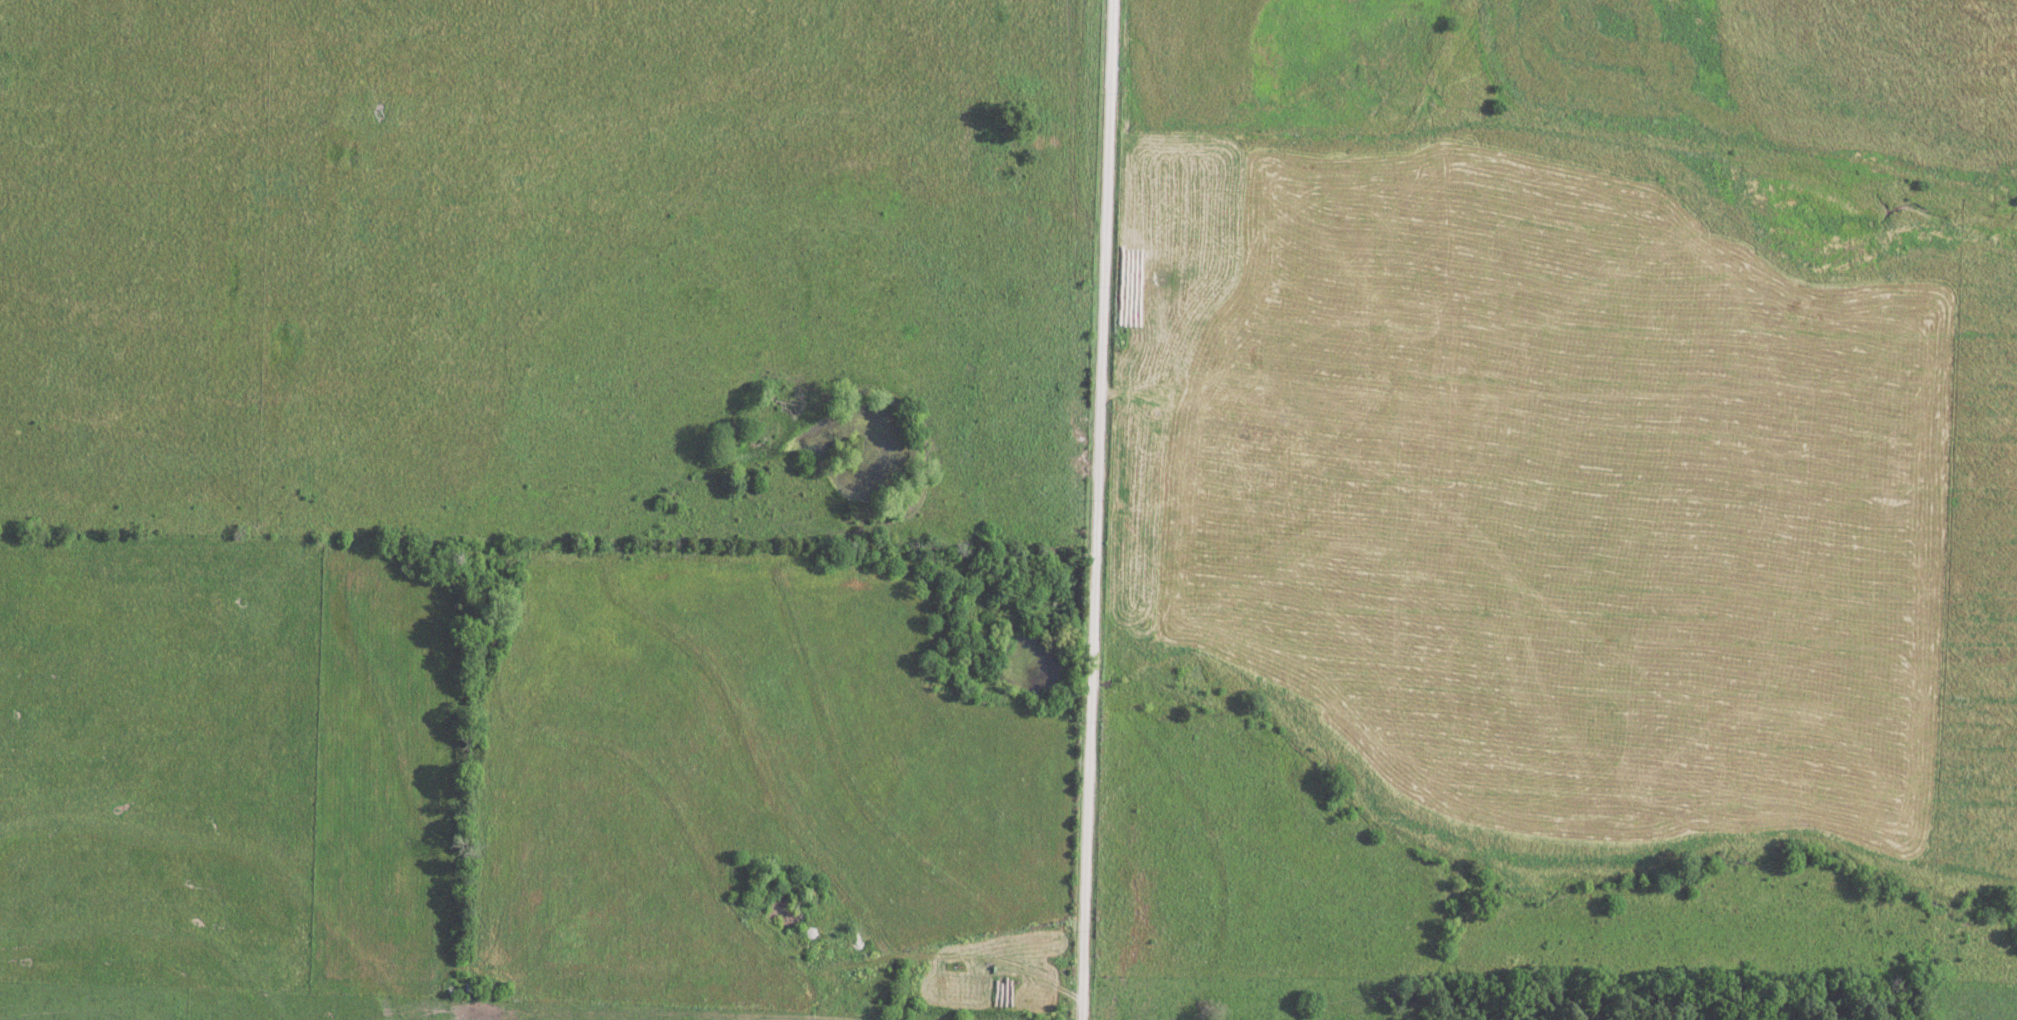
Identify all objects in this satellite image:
building: (1253, 404)
road: (1094, 510)
building: (457, 986)
road: (690, 1011)

